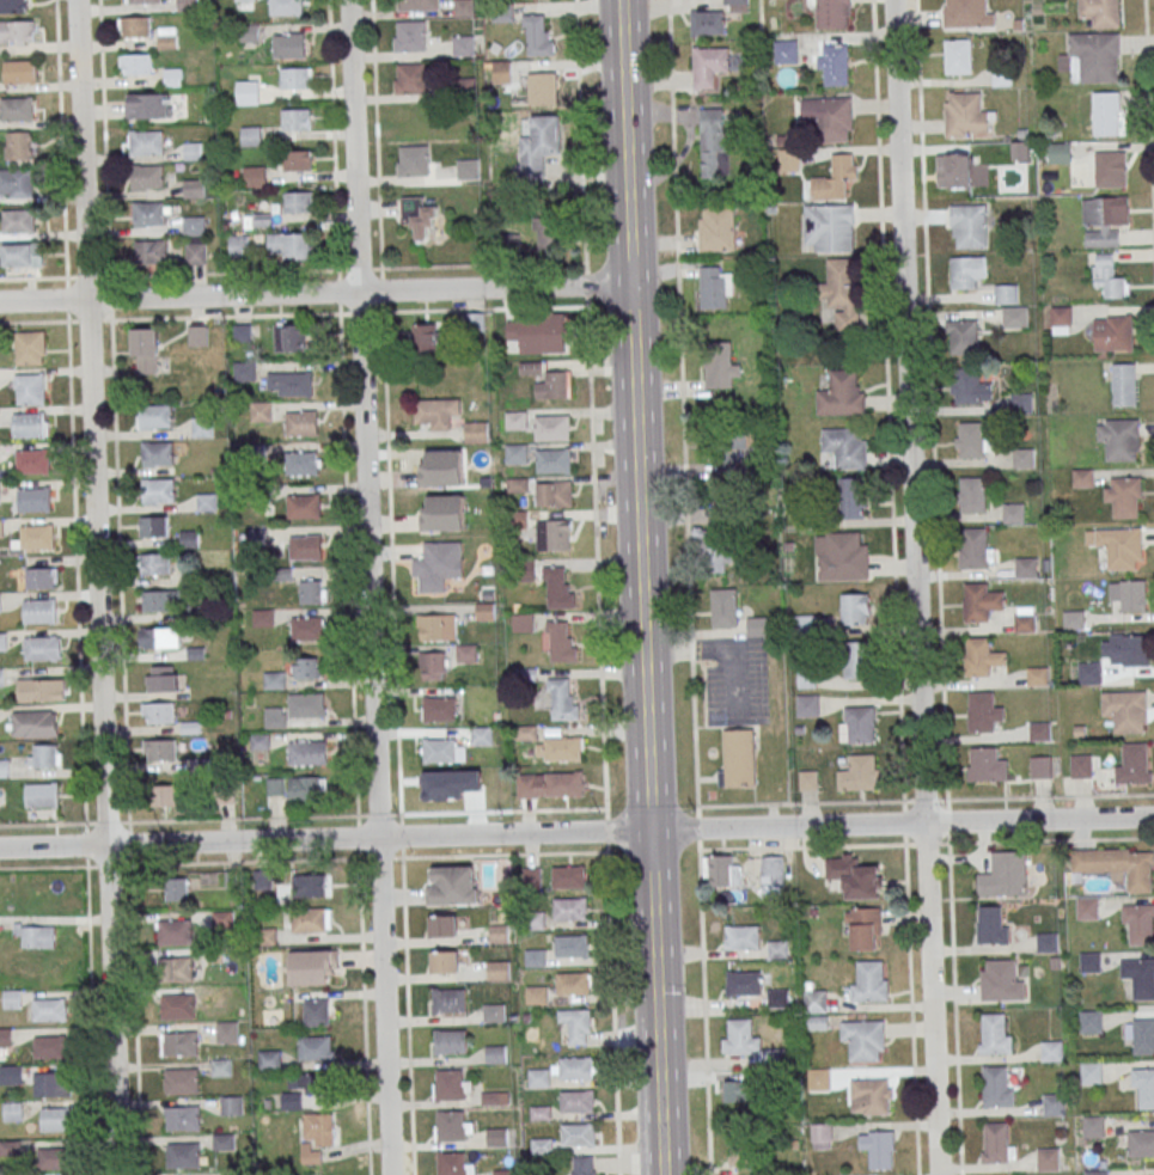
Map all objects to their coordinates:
building: (244, 0)
building: (142, 1)
building: (188, 5)
building: (423, 5)
building: (12, 6)
building: (286, 7)
building: (463, 7)
building: (967, 12)
building: (1101, 12)
building: (831, 13)
building: (714, 18)
building: (134, 27)
building: (17, 31)
building: (249, 33)
building: (409, 36)
building: (538, 37)
building: (166, 38)
building: (288, 45)
building: (463, 45)
building: (786, 51)
building: (959, 55)
building: (1092, 56)
building: (836, 60)
building: (135, 65)
building: (709, 66)
building: (20, 71)
building: (502, 72)
building: (173, 77)
building: (297, 78)
building: (410, 79)
building: (543, 87)
building: (248, 90)
building: (147, 104)
building: (17, 108)
building: (965, 111)
building: (1105, 112)
building: (830, 116)
building: (295, 120)
building: (252, 135)
building: (147, 141)
building: (541, 142)
building: (714, 143)
building: (19, 145)
building: (193, 151)
road: (377, 157)
road: (105, 160)
building: (788, 160)
building: (298, 161)
building: (413, 161)
building: (1111, 167)
building: (468, 170)
building: (953, 170)
building: (148, 176)
building: (255, 176)
building: (837, 178)
building: (16, 180)
building: (195, 188)
building: (299, 202)
building: (149, 213)
building: (420, 216)
building: (19, 220)
building: (970, 224)
building: (1101, 224)
building: (194, 225)
building: (830, 226)
building: (718, 227)
building: (545, 235)
building: (238, 245)
building: (289, 245)
building: (152, 251)
building: (196, 251)
building: (23, 253)
building: (964, 273)
building: (1109, 277)
road: (587, 286)
building: (713, 287)
road: (313, 292)
building: (841, 293)
building: (1006, 294)
building: (1061, 314)
building: (1015, 316)
building: (446, 332)
building: (538, 333)
building: (1112, 333)
building: (197, 336)
building: (964, 336)
building: (291, 338)
building: (30, 348)
building: (145, 351)
building: (720, 366)
building: (530, 368)
building: (244, 372)
building: (1124, 383)
building: (289, 384)
building: (967, 384)
building: (555, 386)
building: (30, 390)
building: (842, 394)
building: (1021, 402)
building: (261, 411)
building: (155, 415)
building: (435, 415)
building: (517, 420)
building: (301, 423)
building: (29, 424)
building: (202, 427)
building: (554, 427)
building: (476, 434)
building: (971, 437)
building: (1121, 437)
building: (727, 447)
building: (847, 447)
building: (158, 453)
building: (517, 453)
building: (1024, 457)
building: (32, 460)
building: (555, 460)
building: (304, 464)
building: (441, 469)
building: (1083, 477)
building: (158, 489)
building: (555, 492)
building: (973, 494)
building: (1124, 495)
building: (35, 498)
building: (853, 498)
building: (206, 502)
building: (304, 507)
building: (1013, 512)
building: (442, 513)
building: (153, 527)
building: (0, 528)
building: (554, 534)
building: (35, 538)
building: (189, 539)
building: (306, 546)
building: (975, 546)
building: (1121, 546)
building: (714, 550)
building: (842, 556)
road: (598, 557)
road: (392, 563)
building: (154, 564)
building: (438, 564)
road: (348, 565)
building: (1026, 565)
road: (77, 571)
building: (525, 571)
building: (41, 579)
road: (98, 587)
road: (372, 587)
road: (640, 587)
road: (915, 587)
building: (558, 588)
building: (313, 592)
road: (121, 593)
building: (1134, 594)
building: (159, 600)
building: (981, 601)
building: (0, 604)
building: (854, 607)
building: (725, 608)
building: (41, 611)
building: (1073, 619)
building: (1024, 622)
building: (523, 623)
building: (756, 626)
building: (438, 628)
building: (310, 629)
building: (160, 638)
building: (562, 641)
building: (2, 642)
building: (41, 648)
building: (1135, 648)
building: (466, 653)
building: (981, 656)
building: (855, 657)
building: (433, 666)
building: (306, 668)
building: (1089, 672)
building: (1037, 675)
building: (164, 679)
building: (806, 679)
building: (45, 690)
building: (563, 699)
building: (311, 706)
building: (807, 706)
building: (1126, 709)
building: (439, 710)
building: (983, 711)
building: (159, 714)
building: (36, 722)
building: (861, 724)
building: (1039, 730)
building: (525, 733)
building: (481, 735)
building: (563, 748)
building: (160, 749)
building: (442, 751)
building: (307, 753)
building: (44, 757)
building: (738, 759)
building: (988, 763)
building: (1134, 763)
building: (1080, 765)
building: (1040, 766)
building: (857, 772)
building: (808, 781)
building: (564, 782)
building: (275, 787)
building: (307, 790)
building: (42, 795)
building: (166, 796)
road: (42, 824)
road: (576, 832)
road: (779, 847)
road: (607, 851)
road: (201, 863)
building: (1117, 865)
building: (722, 871)
building: (771, 875)
building: (1002, 875)
building: (568, 877)
building: (854, 877)
building: (262, 879)
road: (950, 883)
building: (310, 886)
building: (453, 886)
building: (176, 889)
building: (1087, 907)
building: (570, 910)
building: (222, 920)
building: (309, 920)
building: (1138, 923)
building: (442, 926)
building: (990, 926)
building: (865, 929)
building: (175, 932)
building: (499, 934)
building: (36, 935)
building: (743, 937)
building: (1046, 942)
building: (572, 945)
building: (777, 950)
building: (535, 957)
building: (448, 961)
building: (1089, 961)
building: (313, 967)
building: (178, 969)
building: (499, 971)
road: (364, 973)
building: (1143, 979)
building: (869, 983)
building: (1000, 983)
building: (572, 984)
building: (743, 984)
road: (909, 987)
building: (536, 996)
building: (777, 998)
building: (12, 999)
building: (450, 1000)
building: (814, 1000)
building: (178, 1006)
building: (49, 1010)
building: (316, 1012)
building: (494, 1012)
road: (703, 1012)
road: (613, 1014)
road: (408, 1016)
road: (135, 1020)
building: (1091, 1021)
building: (818, 1023)
building: (578, 1026)
building: (226, 1032)
building: (995, 1035)
building: (1143, 1036)
building: (5, 1038)
building: (740, 1038)
building: (863, 1039)
building: (450, 1041)
building: (181, 1045)
building: (50, 1047)
building: (315, 1048)
building: (1051, 1051)
building: (495, 1054)
building: (269, 1060)
building: (220, 1067)
building: (573, 1069)
building: (1091, 1072)
building: (10, 1075)
building: (538, 1078)
building: (818, 1079)
building: (182, 1081)
building: (305, 1083)
building: (53, 1084)
building: (451, 1085)
building: (994, 1087)
building: (1146, 1089)
building: (737, 1091)
building: (871, 1097)
building: (495, 1098)
building: (578, 1102)
building: (1054, 1103)
building: (230, 1106)
building: (12, 1112)
building: (538, 1113)
building: (182, 1119)
building: (57, 1120)
building: (452, 1126)
building: (1093, 1126)
building: (318, 1128)
building: (578, 1134)
building: (497, 1137)
building: (820, 1137)
building: (996, 1143)
building: (1141, 1144)
building: (741, 1149)
building: (880, 1151)
building: (183, 1156)
building: (51, 1158)
building: (1048, 1158)
building: (454, 1163)
building: (584, 1165)
building: (1095, 1171)
building: (503, 1173)

